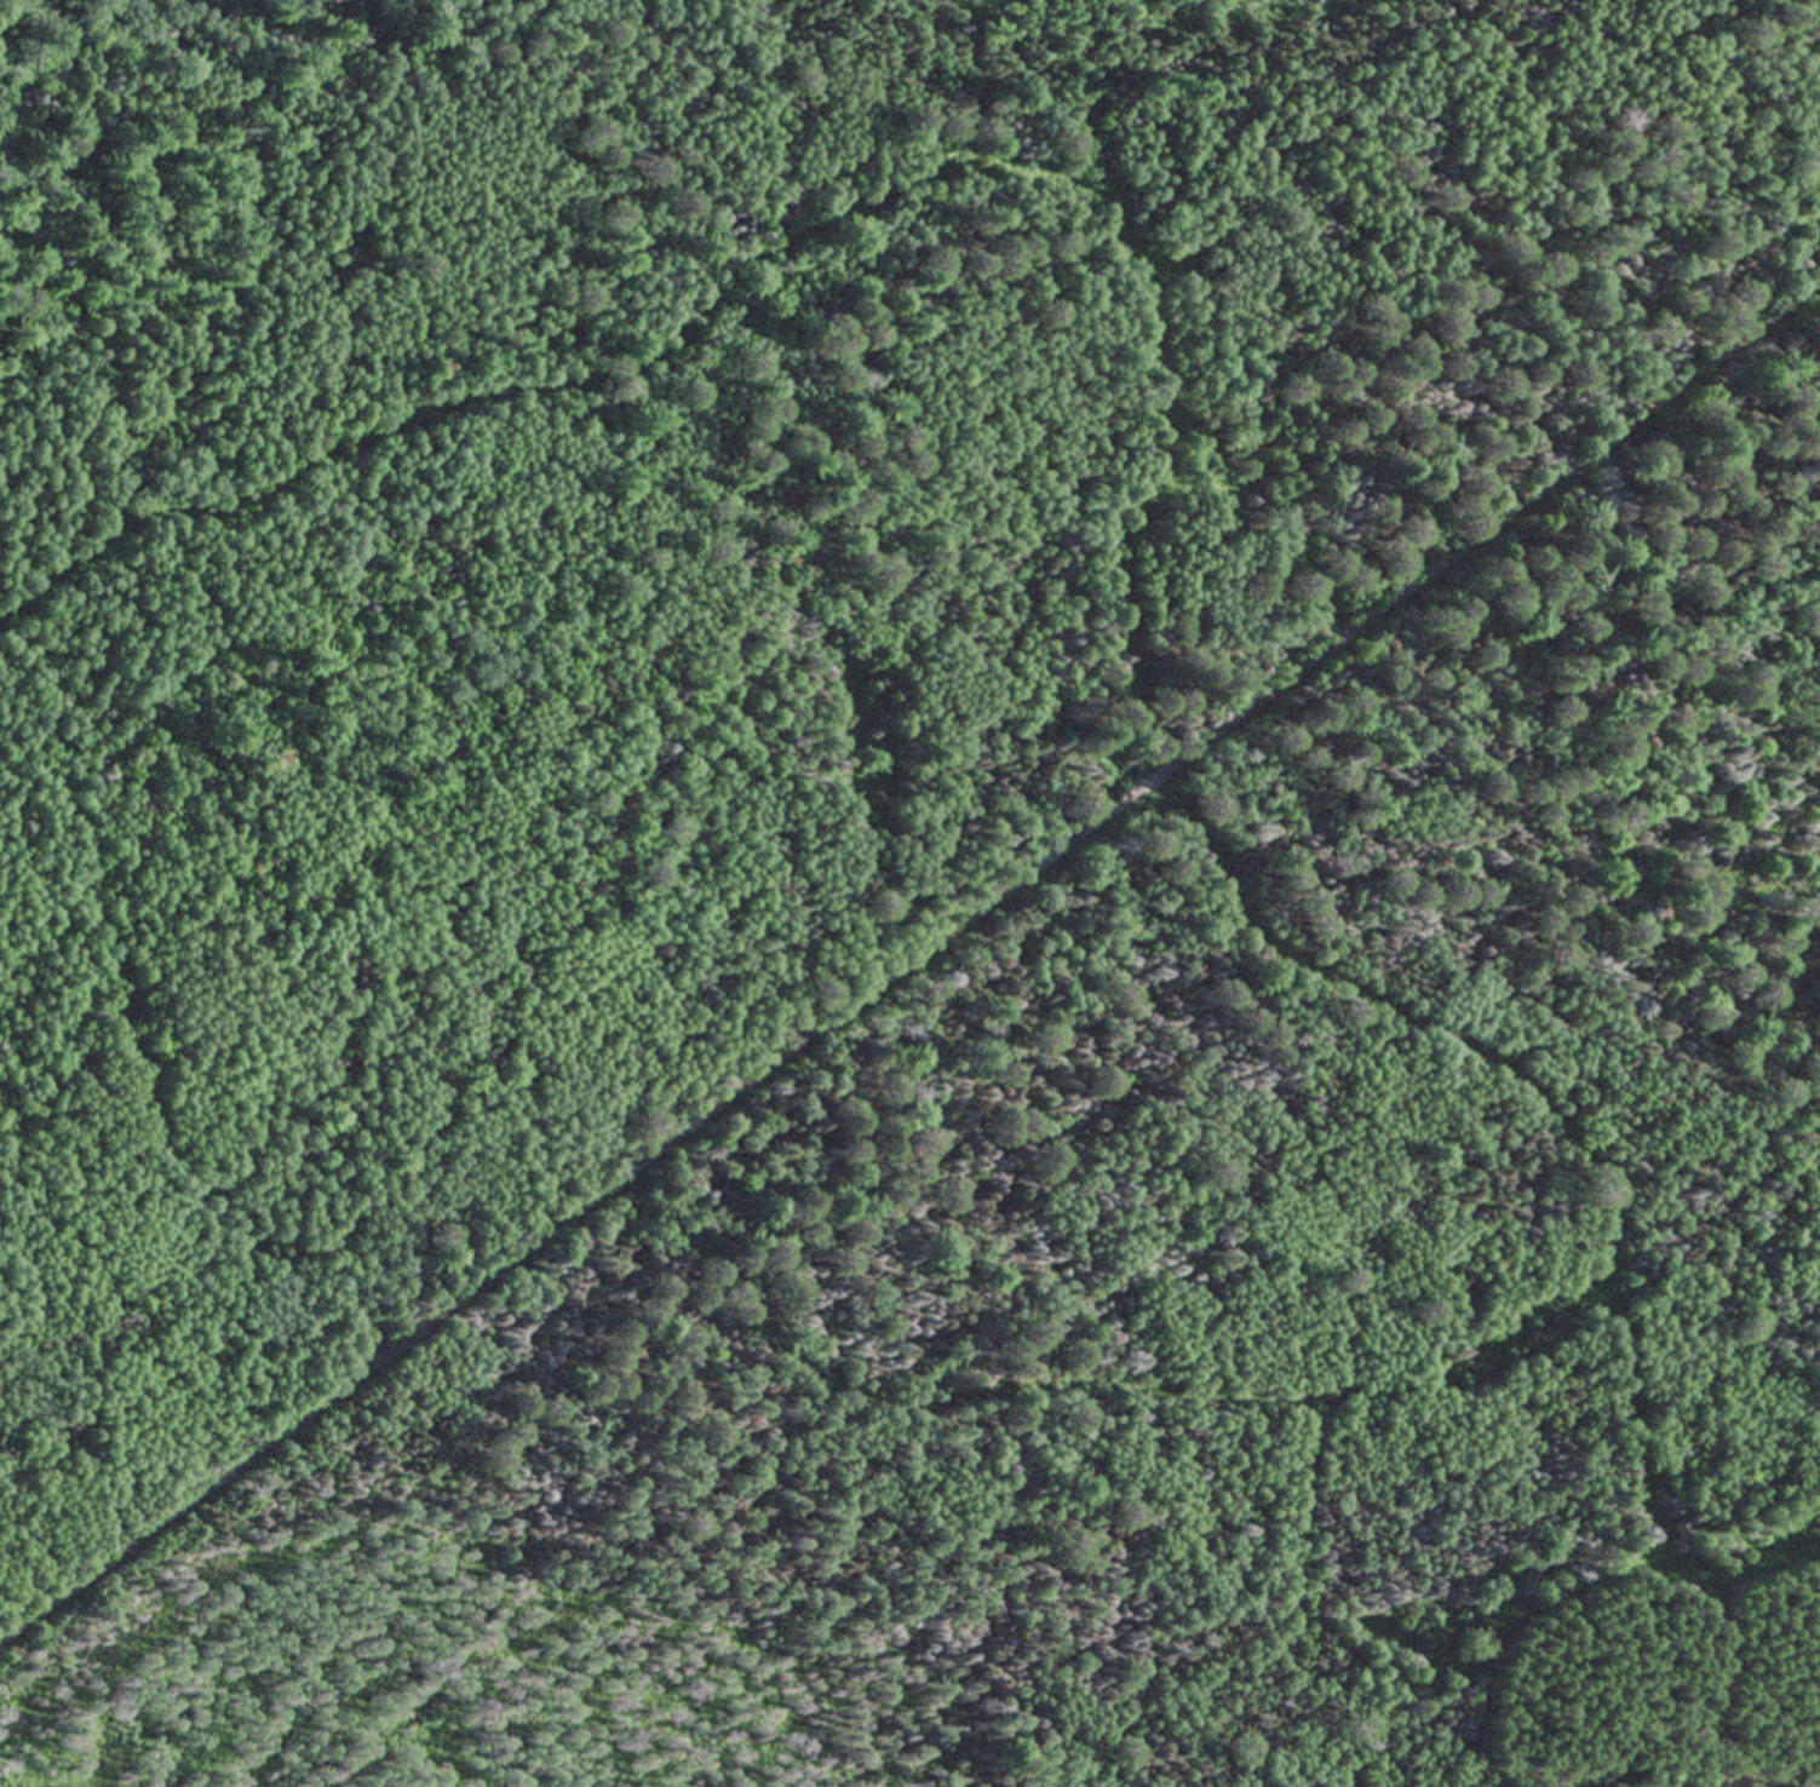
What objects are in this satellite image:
road: (911, 950)

